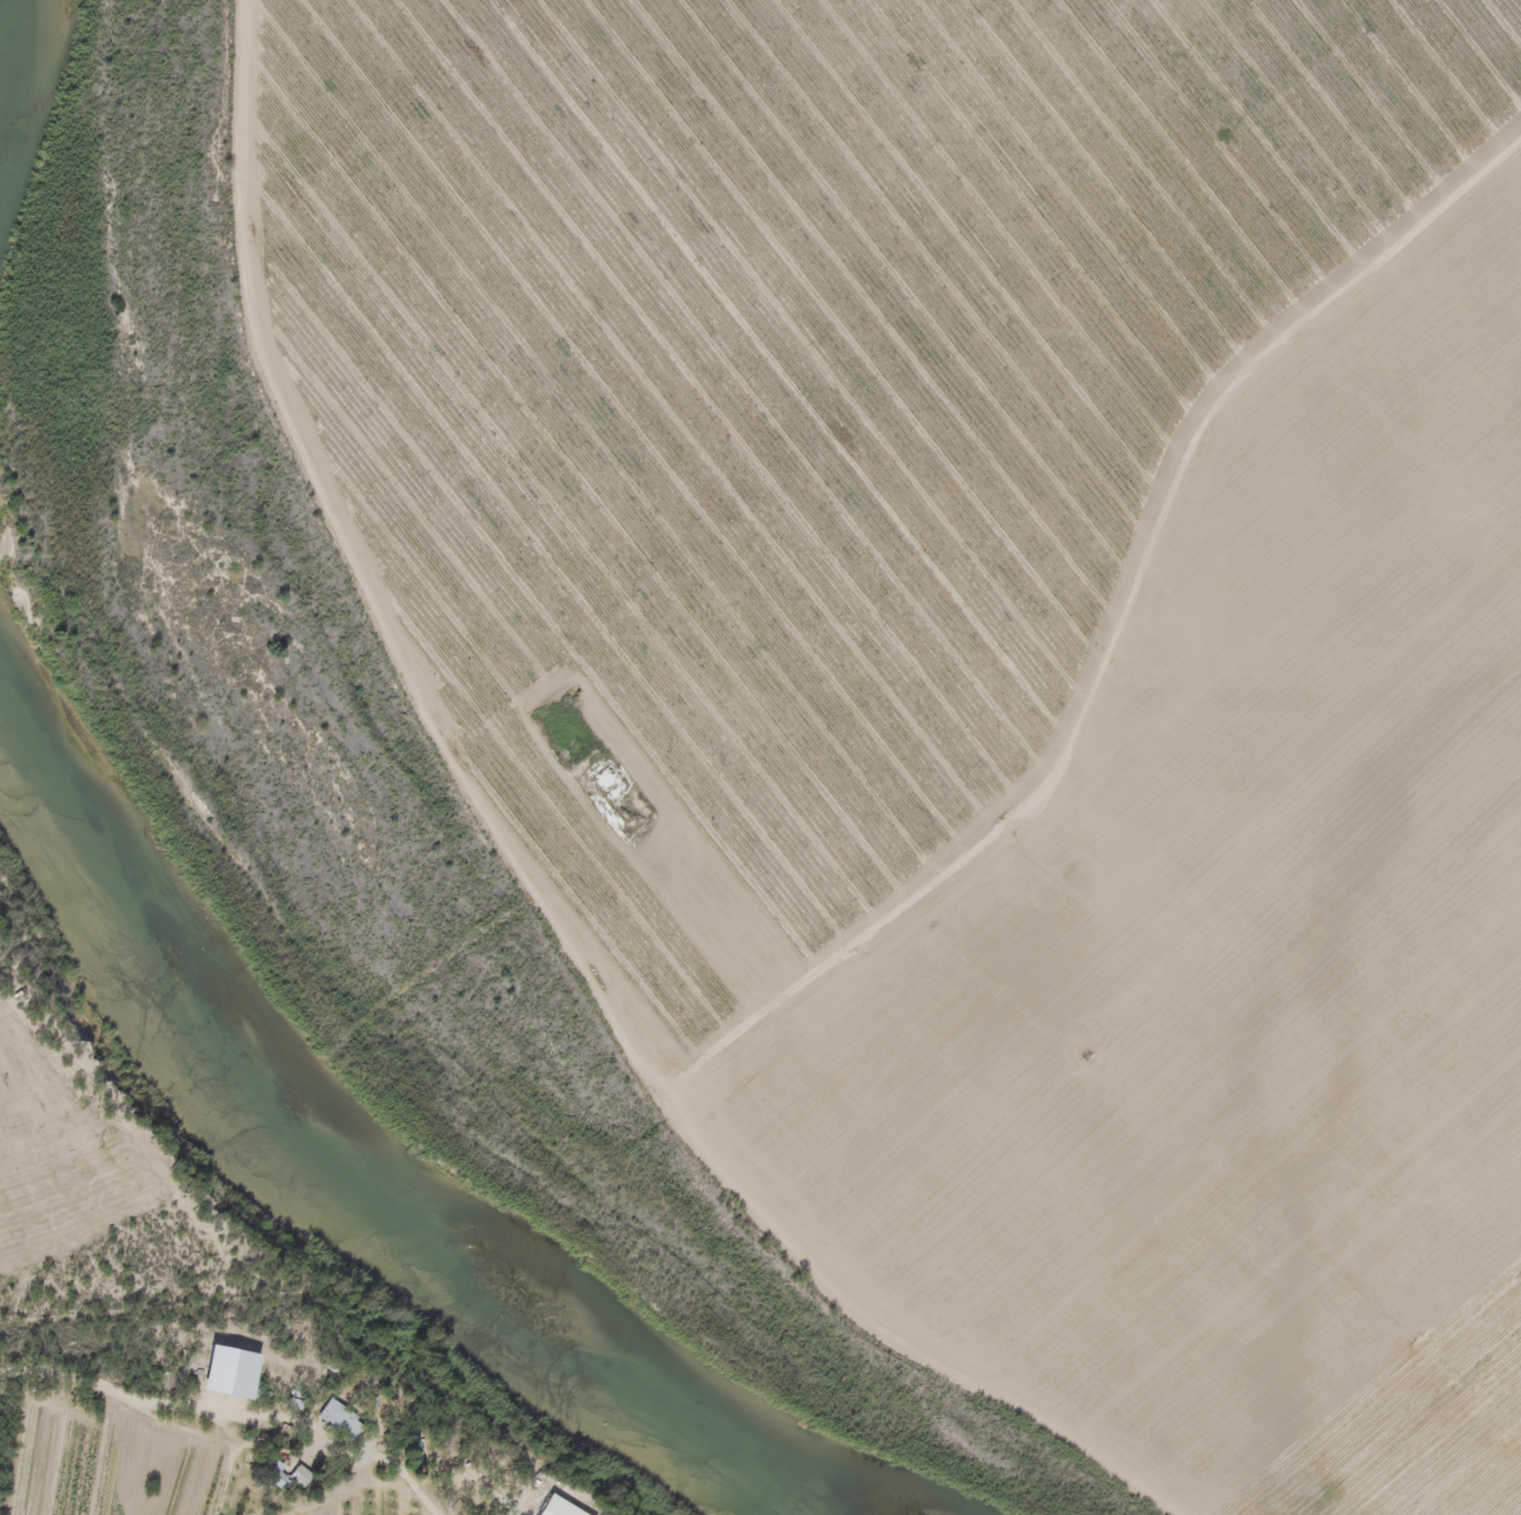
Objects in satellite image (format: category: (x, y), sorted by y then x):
river: (10, 33)
road: (1119, 645)
road: (520, 876)
river: (381, 1216)
building: (334, 1425)
building: (410, 1449)
building: (269, 1480)
building: (293, 1480)

